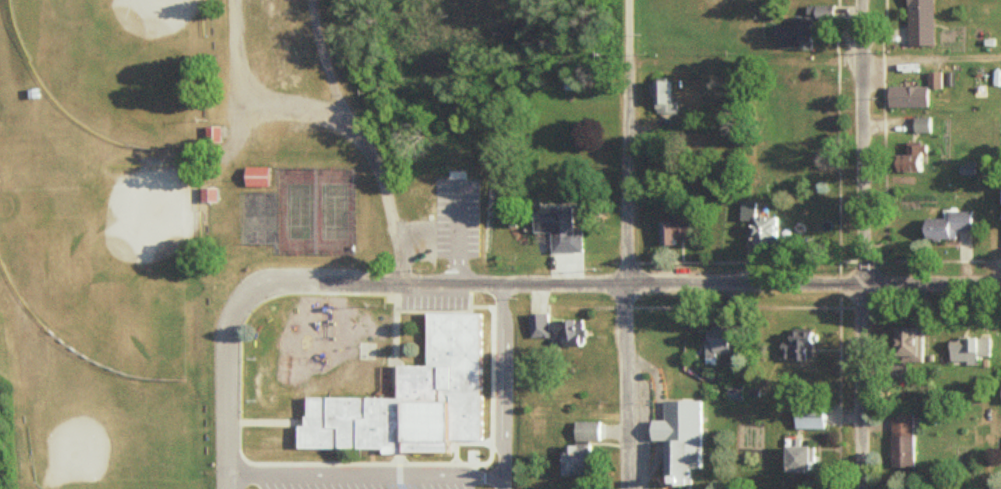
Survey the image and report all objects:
building: (918, 22)
building: (799, 28)
park: (122, 66)
road: (239, 69)
building: (933, 80)
building: (913, 95)
building: (662, 98)
building: (921, 125)
building: (210, 133)
road: (367, 143)
building: (910, 158)
building: (254, 175)
building: (207, 193)
park: (314, 208)
park: (257, 216)
building: (758, 223)
building: (945, 225)
park: (147, 228)
building: (558, 228)
building: (673, 228)
road: (628, 244)
road: (859, 244)
park: (109, 260)
road: (623, 281)
building: (538, 325)
building: (568, 332)
building: (717, 342)
building: (798, 346)
building: (903, 347)
building: (970, 349)
road: (224, 385)
building: (1000, 392)
building: (408, 399)
building: (809, 415)
park: (104, 421)
building: (586, 430)
building: (900, 439)
building: (678, 440)
building: (795, 458)
building: (574, 460)

